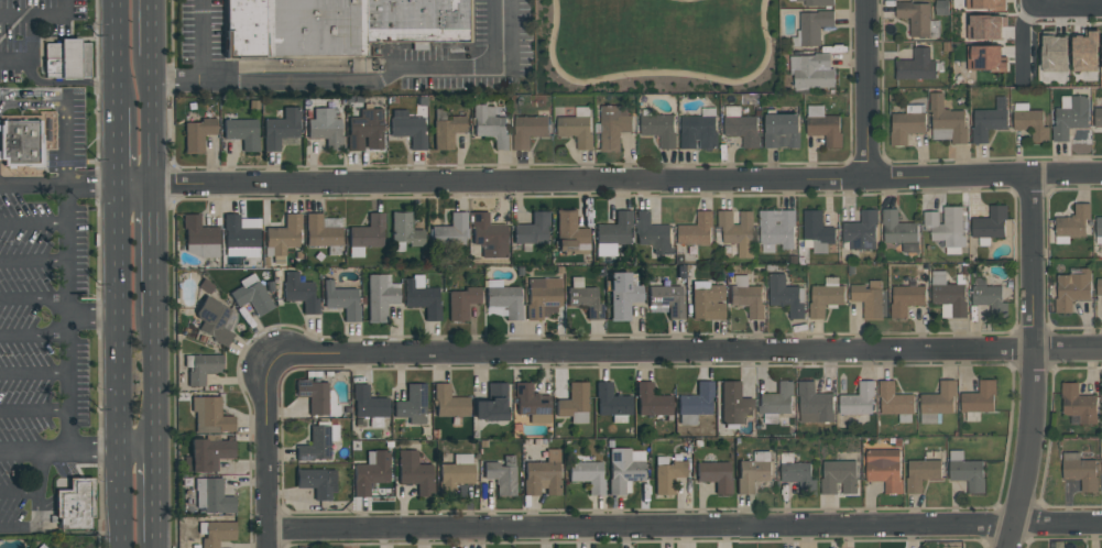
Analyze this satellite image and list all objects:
road: (687, 0)
building: (818, 2)
building: (985, 3)
road: (1066, 4)
road: (41, 17)
building: (915, 17)
building: (815, 25)
building: (984, 25)
building: (341, 28)
road: (150, 31)
road: (1019, 40)
street lamp: (772, 41)
road: (550, 42)
road: (114, 45)
park: (656, 46)
building: (1054, 52)
building: (1084, 52)
road: (29, 54)
building: (984, 57)
building: (66, 61)
building: (916, 65)
road: (201, 66)
road: (150, 70)
building: (811, 72)
street lamp: (557, 75)
road: (385, 78)
street lamp: (629, 78)
street lamp: (709, 81)
road: (66, 83)
road: (869, 88)
road: (150, 90)
road: (63, 108)
road: (150, 109)
building: (1098, 117)
building: (1070, 118)
building: (989, 120)
building: (947, 121)
building: (1030, 123)
building: (613, 125)
building: (490, 127)
building: (905, 127)
building: (325, 128)
building: (280, 129)
building: (659, 129)
building: (743, 129)
building: (826, 129)
building: (365, 130)
building: (408, 130)
building: (528, 130)
building: (576, 130)
building: (698, 131)
building: (782, 131)
building: (447, 132)
building: (242, 133)
building: (197, 135)
road: (116, 139)
building: (26, 146)
road: (150, 152)
road: (625, 179)
road: (108, 185)
building: (1073, 220)
building: (990, 222)
road: (33, 224)
building: (945, 224)
building: (1099, 226)
building: (776, 229)
building: (404, 230)
building: (532, 230)
building: (614, 230)
building: (696, 230)
building: (817, 230)
building: (899, 230)
building: (450, 231)
building: (738, 231)
building: (862, 231)
building: (198, 232)
building: (319, 232)
building: (238, 233)
building: (368, 233)
building: (653, 233)
building: (284, 234)
building: (569, 234)
building: (488, 235)
road: (117, 252)
road: (151, 252)
road: (33, 262)
road: (66, 285)
building: (1099, 286)
building: (1071, 288)
building: (299, 293)
building: (785, 295)
building: (621, 296)
building: (950, 297)
building: (252, 298)
building: (543, 298)
building: (869, 298)
building: (379, 299)
building: (666, 299)
building: (748, 299)
building: (825, 299)
building: (906, 299)
building: (991, 299)
road: (33, 300)
building: (341, 300)
building: (423, 300)
building: (505, 300)
building: (583, 300)
building: (461, 303)
building: (708, 304)
road: (92, 318)
building: (214, 321)
road: (33, 336)
road: (686, 351)
road: (1035, 363)
building: (203, 369)
road: (33, 374)
road: (119, 384)
road: (152, 384)
building: (314, 396)
building: (980, 397)
building: (777, 398)
building: (858, 399)
building: (894, 399)
building: (939, 399)
building: (530, 401)
building: (572, 401)
building: (611, 402)
building: (651, 402)
building: (696, 402)
building: (448, 403)
building: (815, 403)
building: (368, 404)
building: (492, 404)
building: (733, 404)
building: (1079, 404)
building: (412, 405)
building: (210, 416)
building: (315, 446)
road: (265, 449)
road: (138, 451)
road: (34, 452)
road: (95, 452)
building: (209, 454)
building: (884, 469)
building: (623, 471)
road: (41, 472)
building: (414, 472)
building: (370, 473)
building: (921, 473)
building: (969, 473)
building: (1082, 473)
building: (752, 474)
building: (587, 475)
building: (798, 475)
building: (839, 475)
building: (668, 476)
building: (714, 476)
building: (455, 478)
building: (501, 478)
building: (542, 479)
building: (317, 482)
road: (154, 497)
building: (217, 498)
road: (121, 500)
building: (77, 507)
road: (37, 511)
road: (684, 529)
building: (218, 534)
road: (155, 546)

